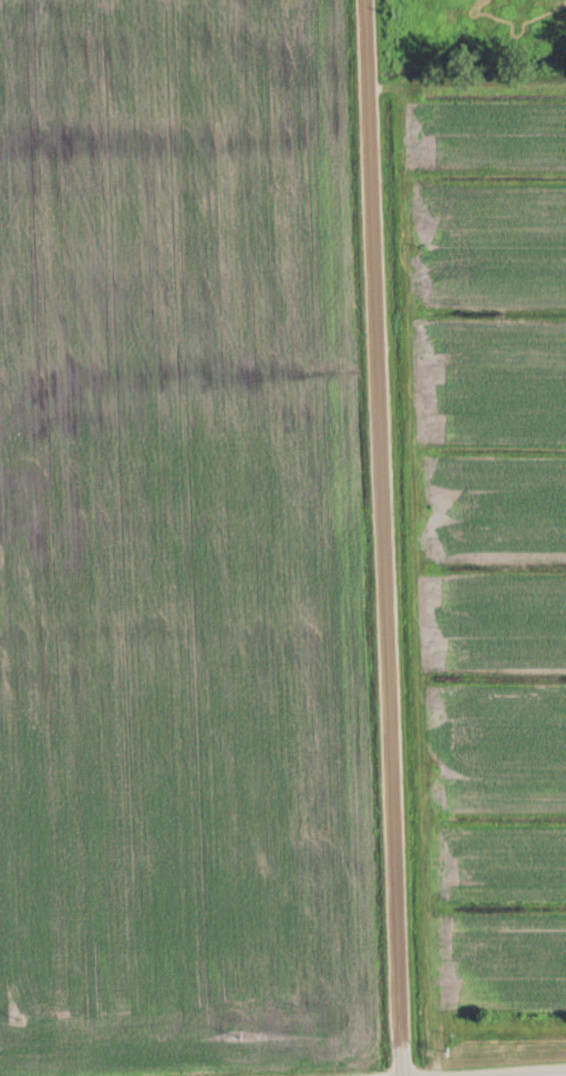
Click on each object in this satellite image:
road: (381, 537)
crop: (492, 544)
crop: (181, 545)

